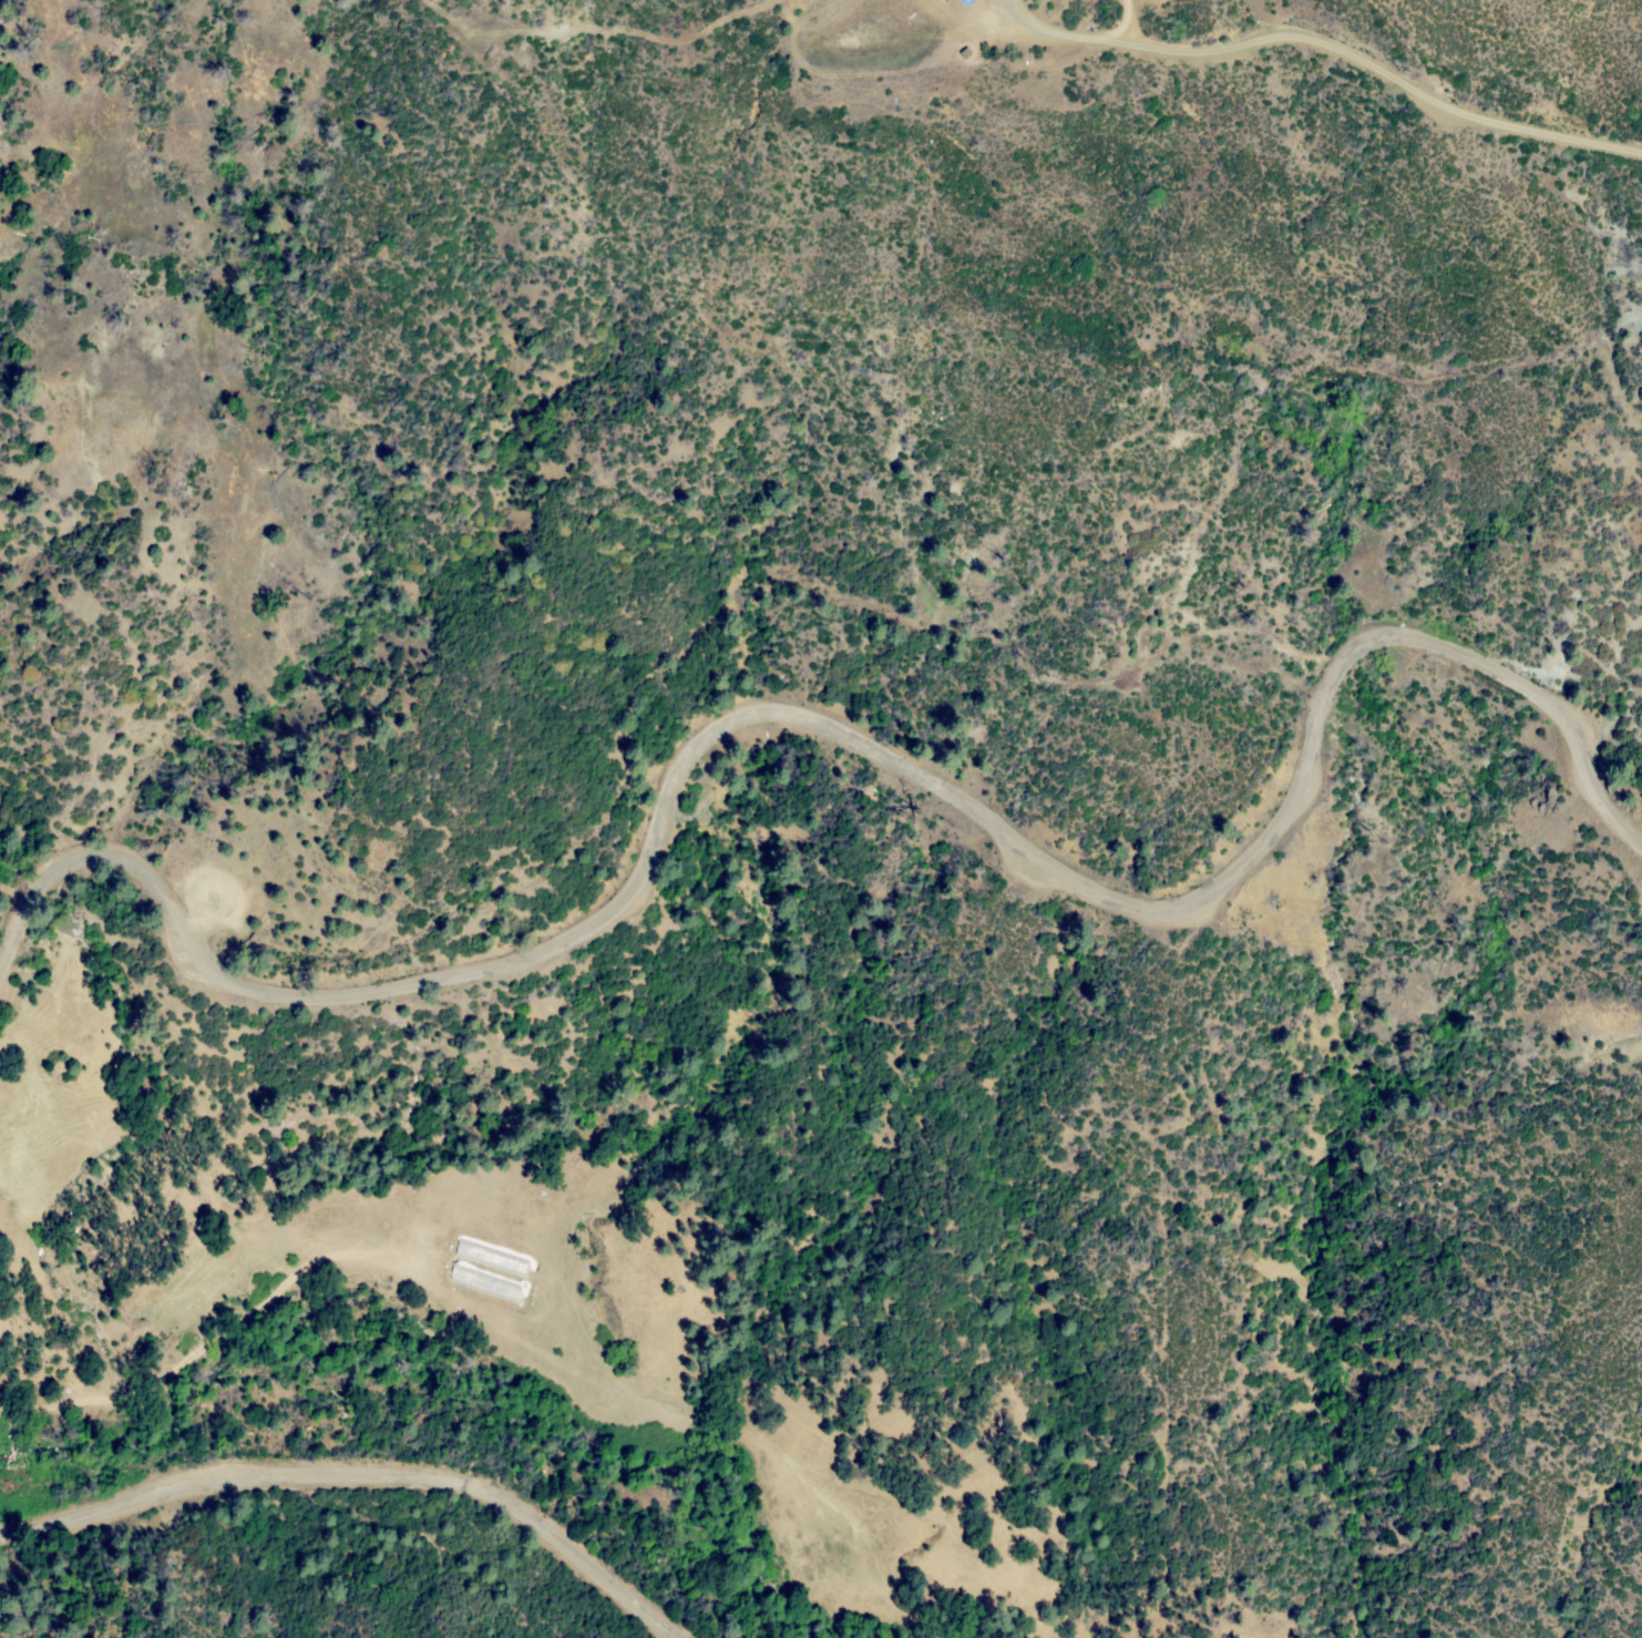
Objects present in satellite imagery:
road: (1135, 23)
road: (1315, 45)
building: (965, 52)
storage tank: (965, 52)
road: (840, 734)
road: (14, 893)
road: (359, 1477)

